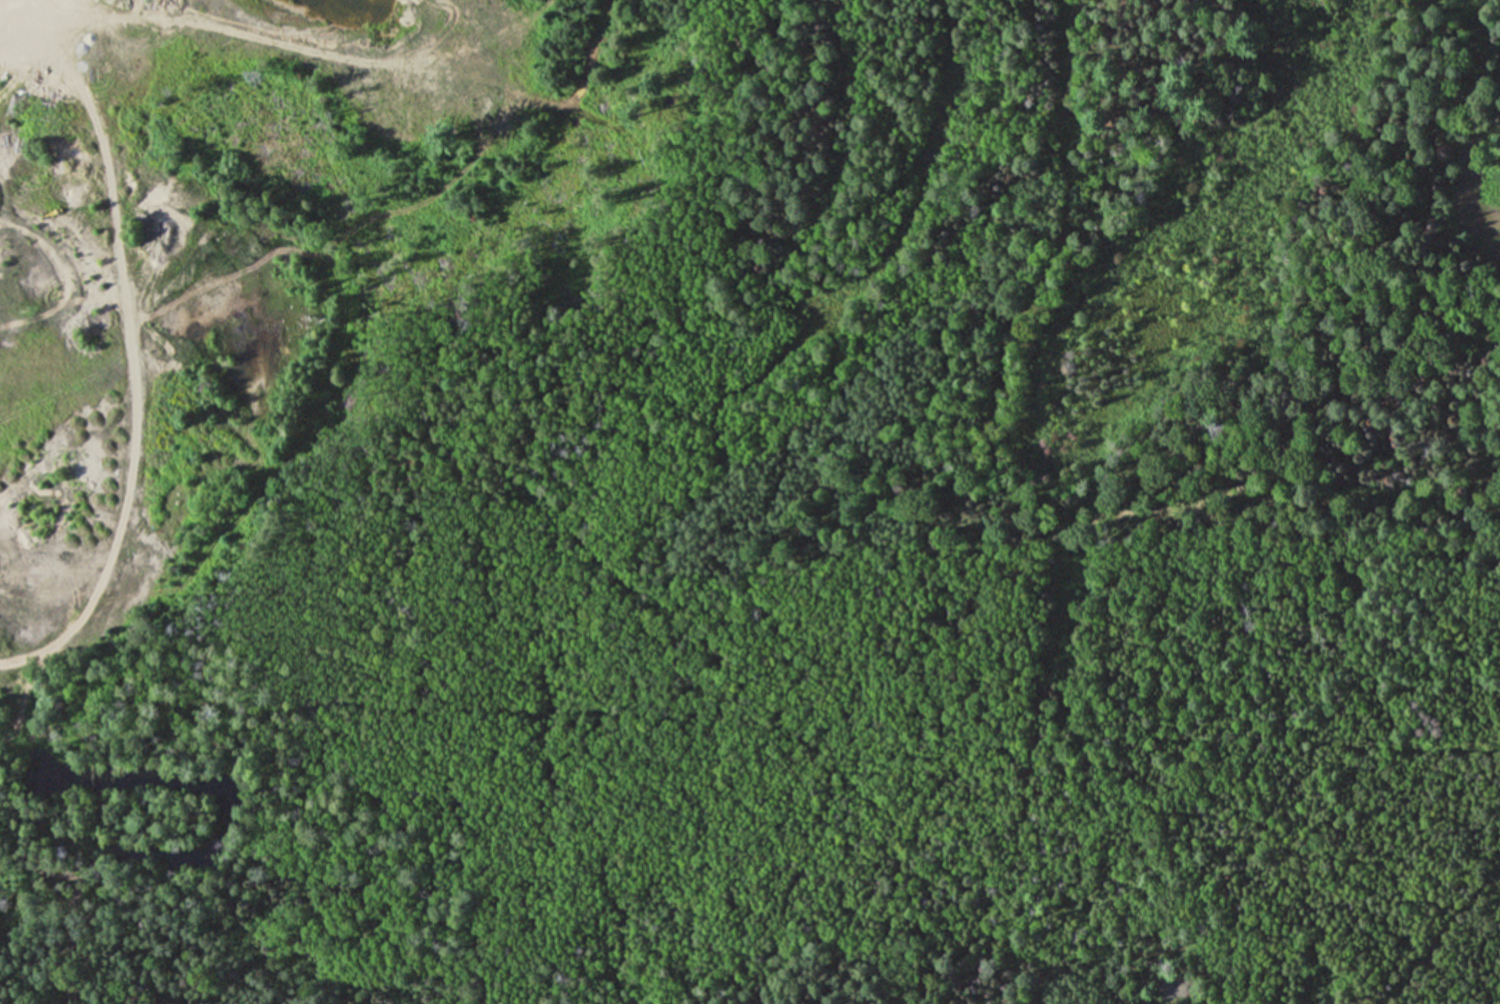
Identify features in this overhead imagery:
road: (2, 1)
road: (76, 30)
quarry: (255, 280)

